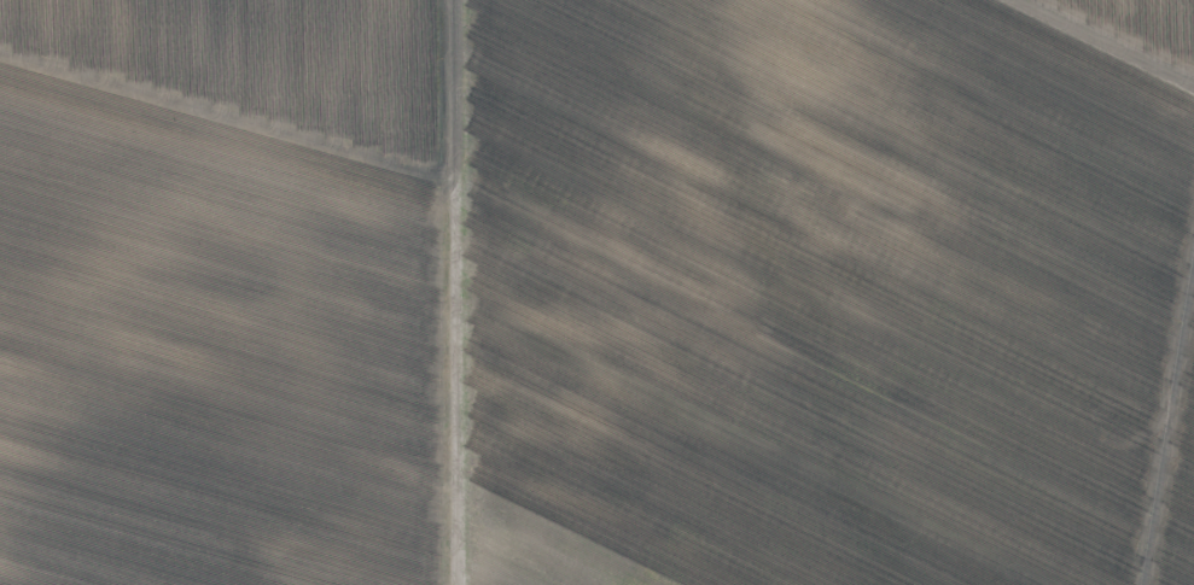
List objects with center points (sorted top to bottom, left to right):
road: (1090, 47)

